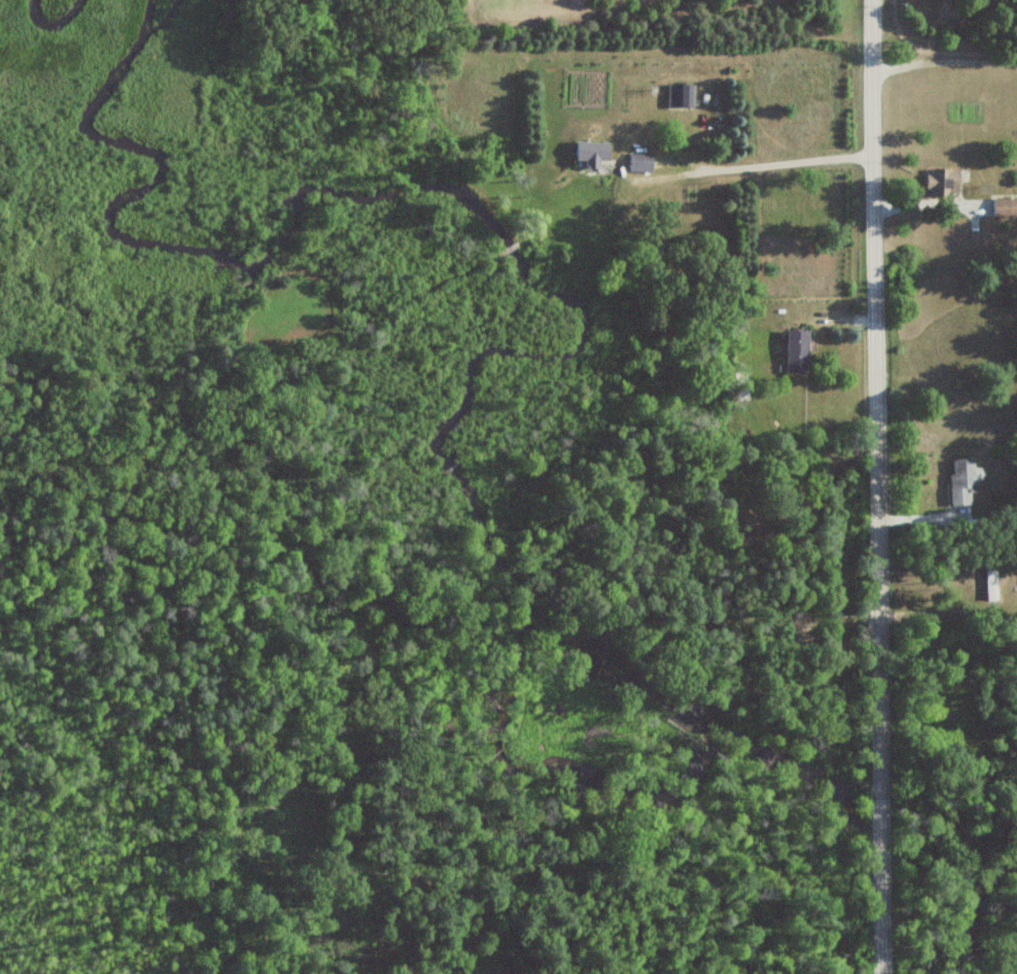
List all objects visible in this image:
road: (943, 61)
building: (680, 96)
building: (591, 153)
building: (639, 163)
road: (769, 167)
building: (942, 183)
road: (928, 204)
building: (1004, 208)
building: (797, 352)
building: (961, 481)
road: (877, 486)
building: (990, 581)

